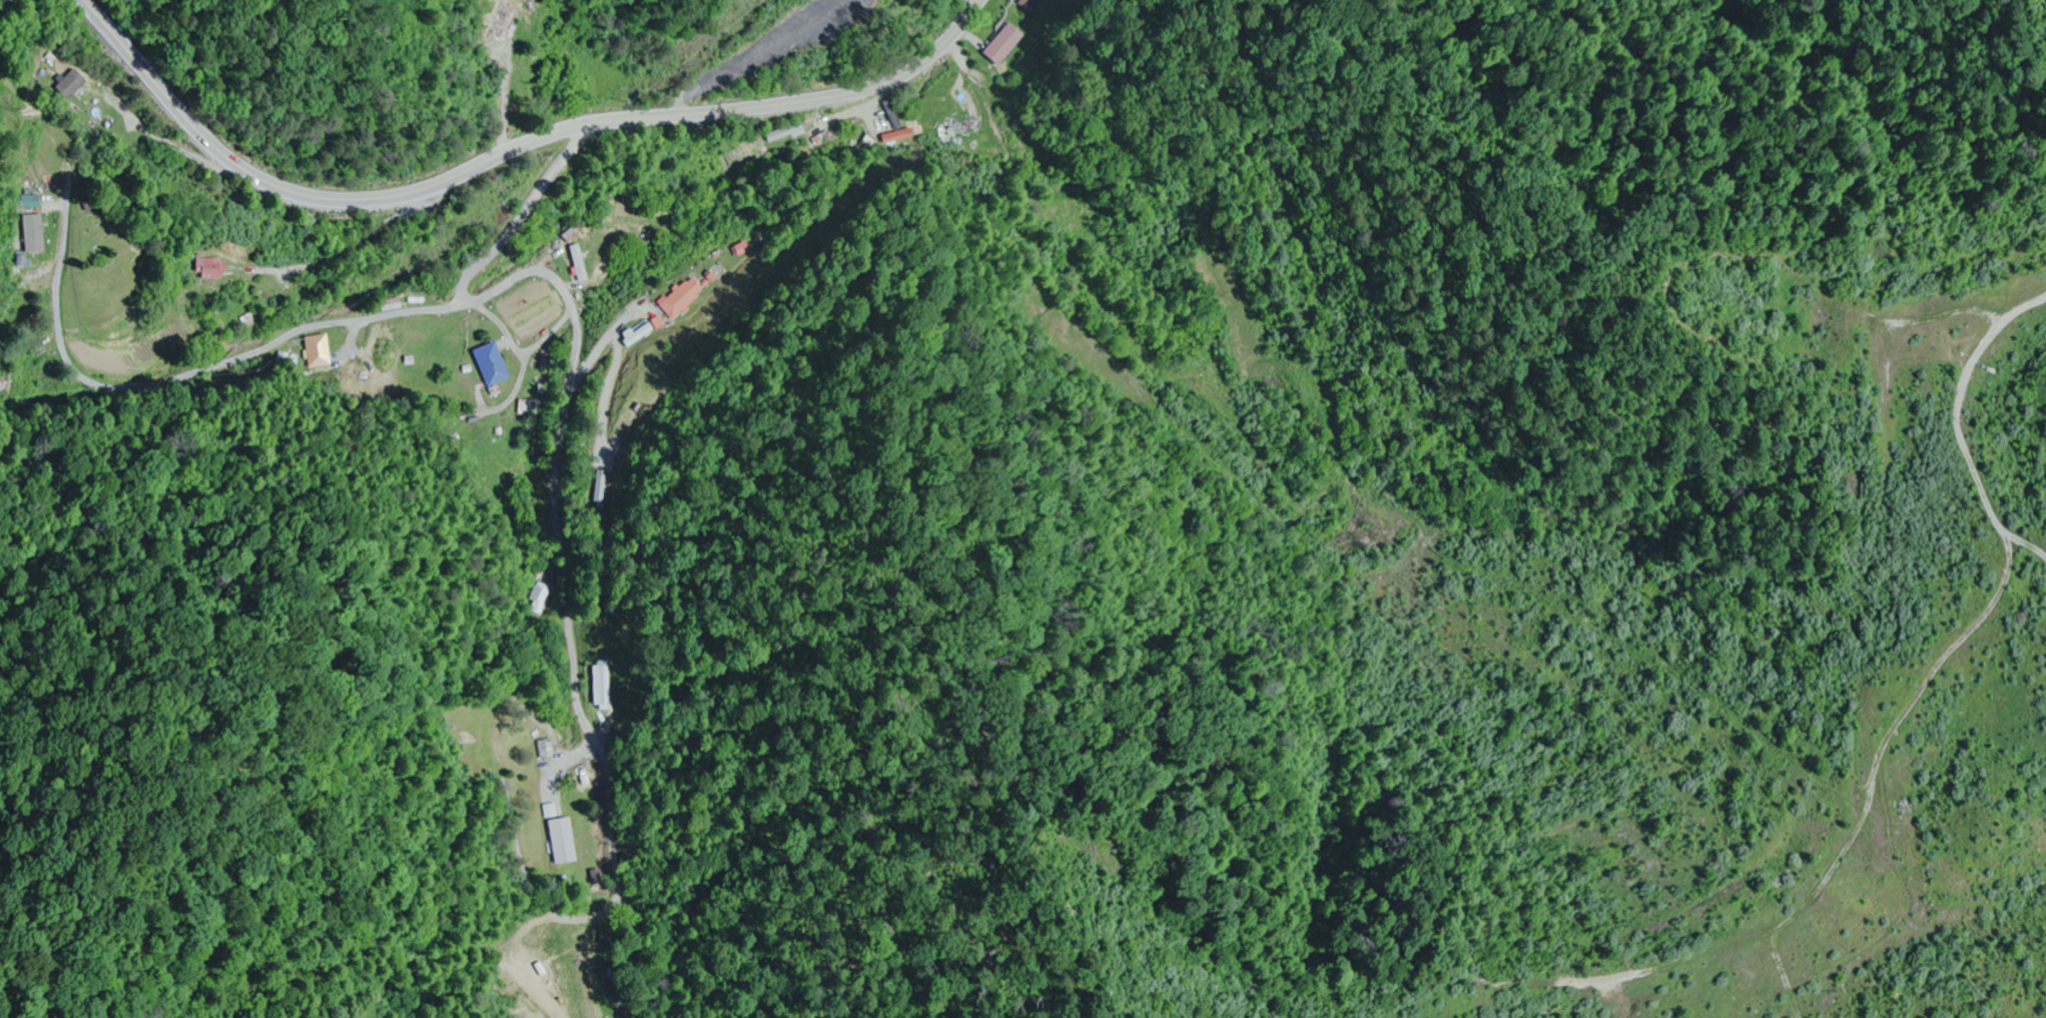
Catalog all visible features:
building: (1031, 5)
building: (507, 24)
building: (1006, 44)
building: (74, 85)
building: (894, 115)
building: (963, 128)
building: (788, 133)
road: (509, 152)
building: (33, 202)
building: (35, 234)
building: (581, 263)
building: (214, 268)
building: (684, 298)
building: (7, 316)
road: (379, 318)
building: (638, 333)
building: (320, 351)
building: (495, 364)
road: (566, 505)
building: (540, 598)
building: (601, 687)
building: (550, 748)
building: (567, 841)

